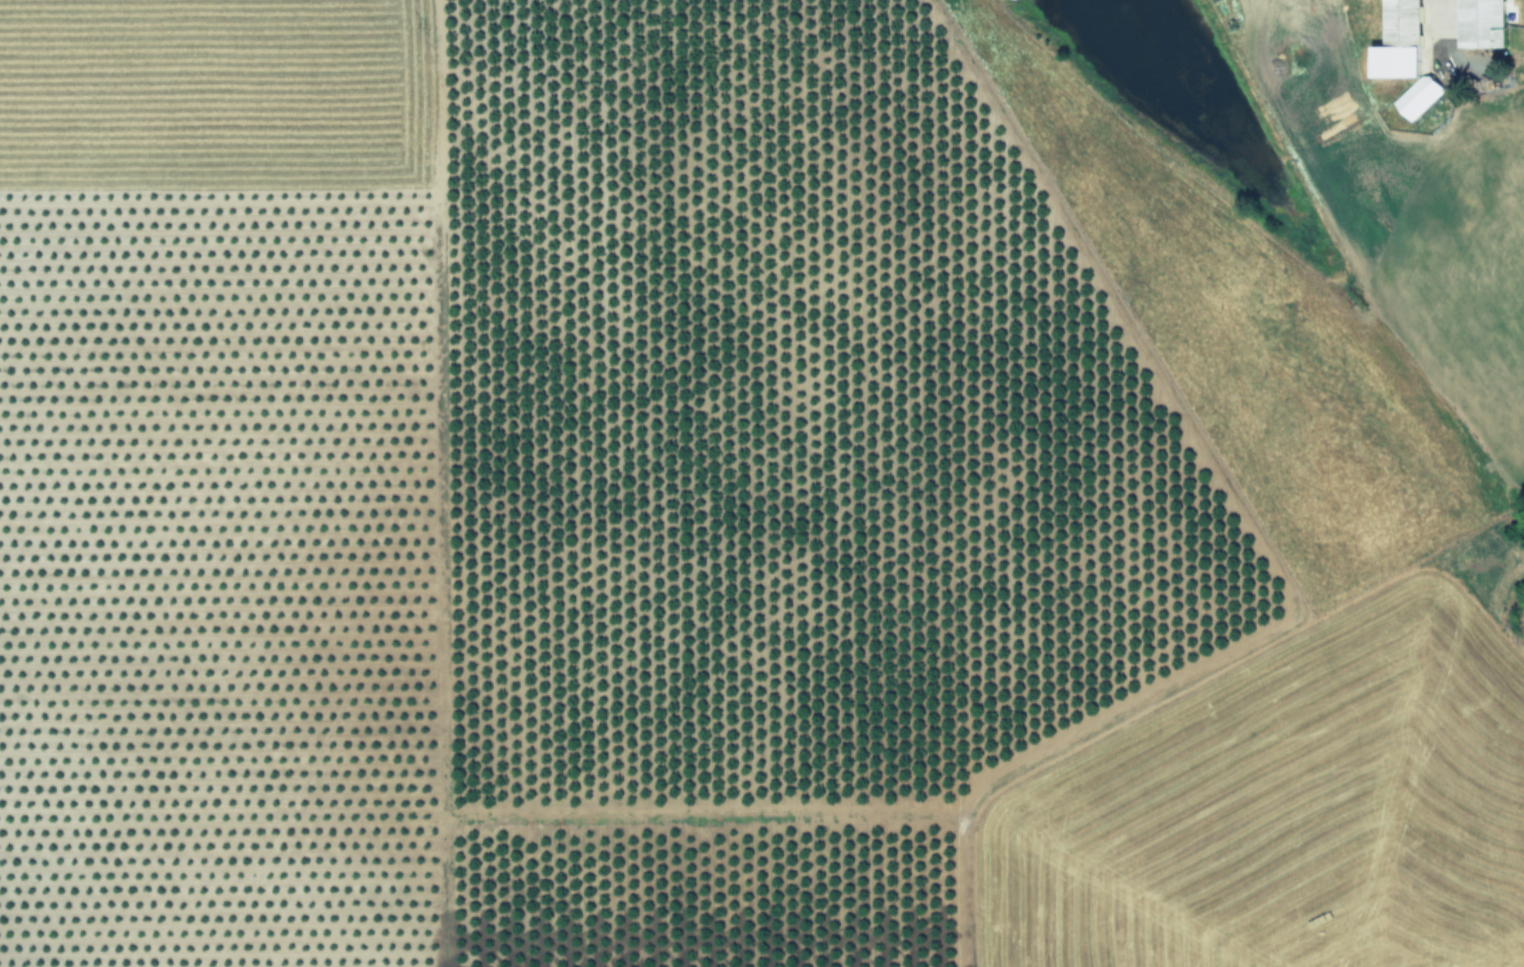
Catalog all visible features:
building: (1406, 2)
building: (1484, 22)
building: (1428, 81)
crop: (762, 483)

